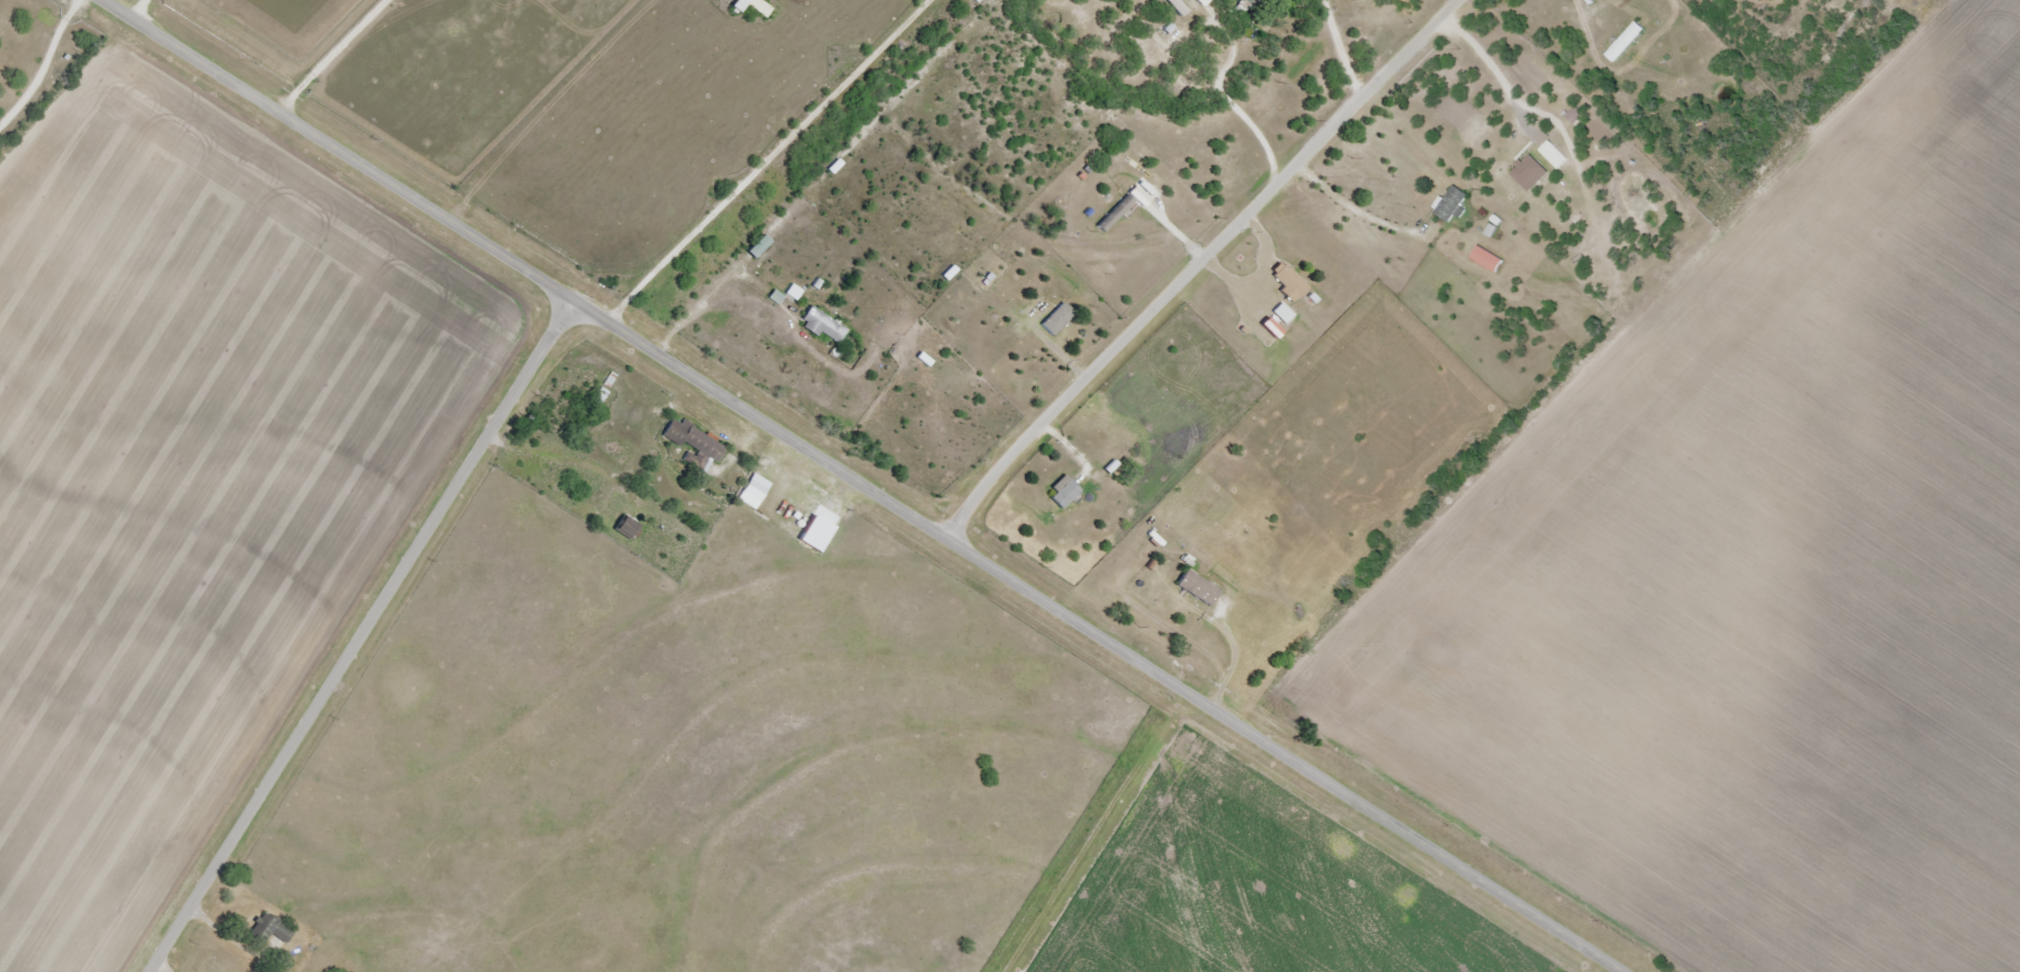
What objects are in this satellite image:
building: (1710, 2)
building: (753, 6)
building: (1244, 6)
building: (1626, 42)
road: (799, 160)
road: (873, 181)
building: (1452, 204)
building: (1116, 213)
building: (758, 247)
building: (1488, 259)
road: (1197, 262)
building: (1290, 283)
building: (1284, 313)
building: (1058, 319)
building: (823, 327)
building: (695, 441)
road: (877, 485)
building: (755, 491)
building: (1065, 495)
building: (813, 539)
building: (1198, 589)
road: (368, 633)

